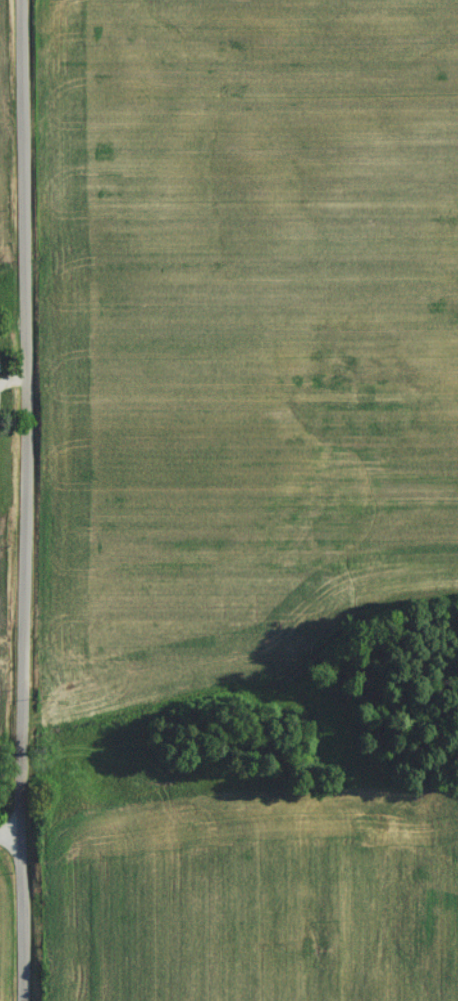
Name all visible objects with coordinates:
road: (30, 500)
road: (13, 836)

